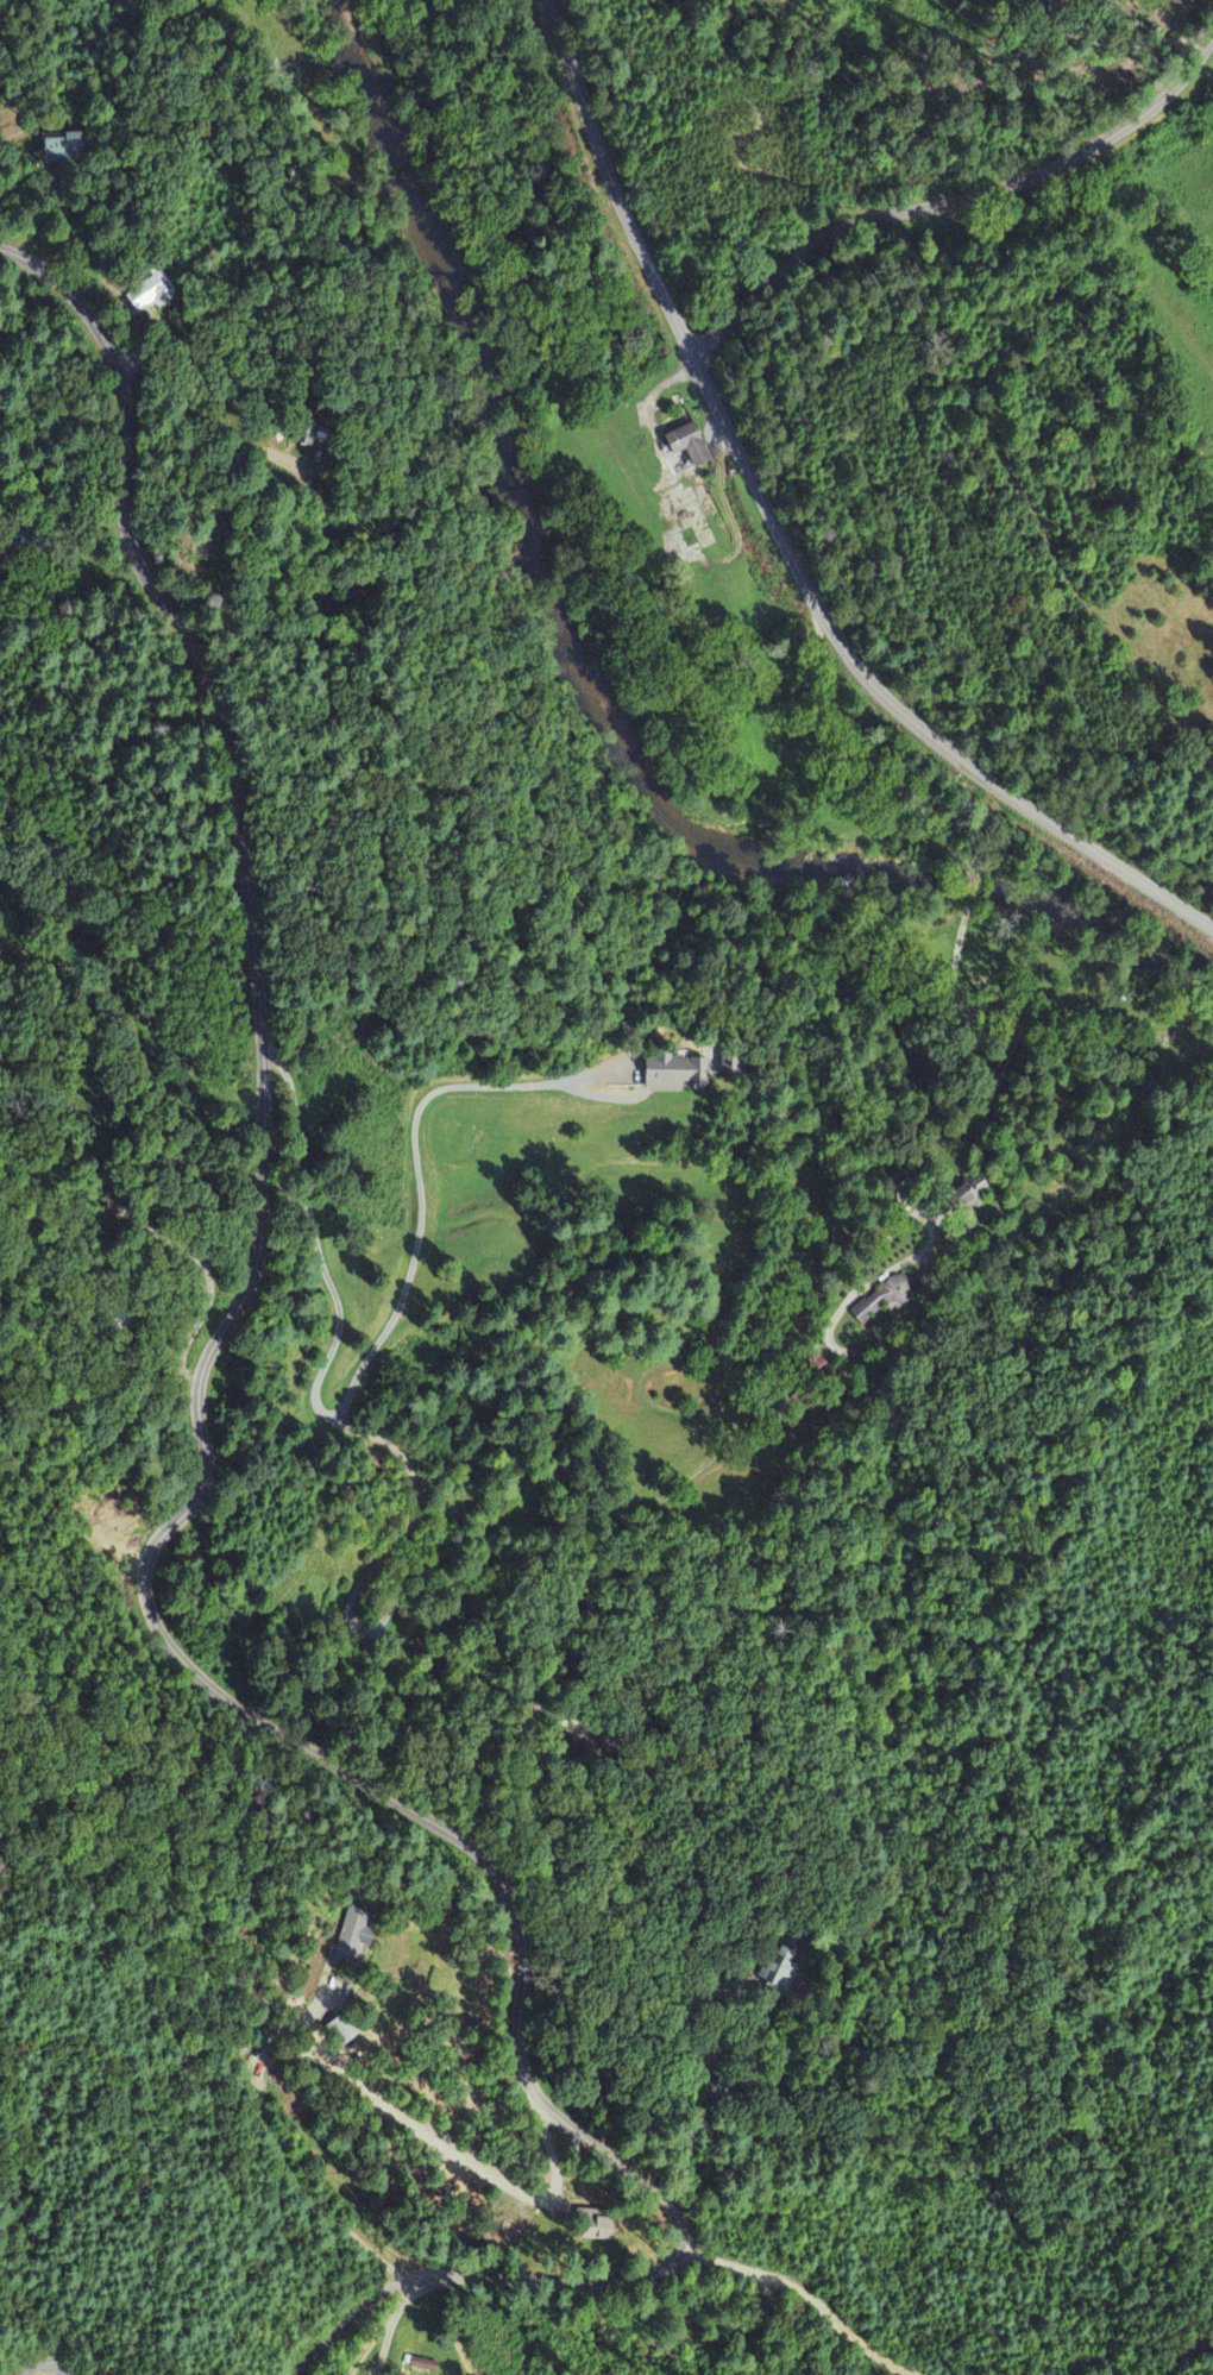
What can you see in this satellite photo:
building: (63, 150)
road: (956, 205)
building: (145, 295)
building: (685, 444)
road: (784, 539)
road: (968, 923)
building: (671, 1073)
building: (964, 1194)
road: (942, 1314)
road: (203, 1471)
building: (352, 1936)
building: (339, 2031)
building: (592, 2229)
road: (351, 2318)
road: (378, 2329)
road: (388, 2337)
road: (45, 2364)

